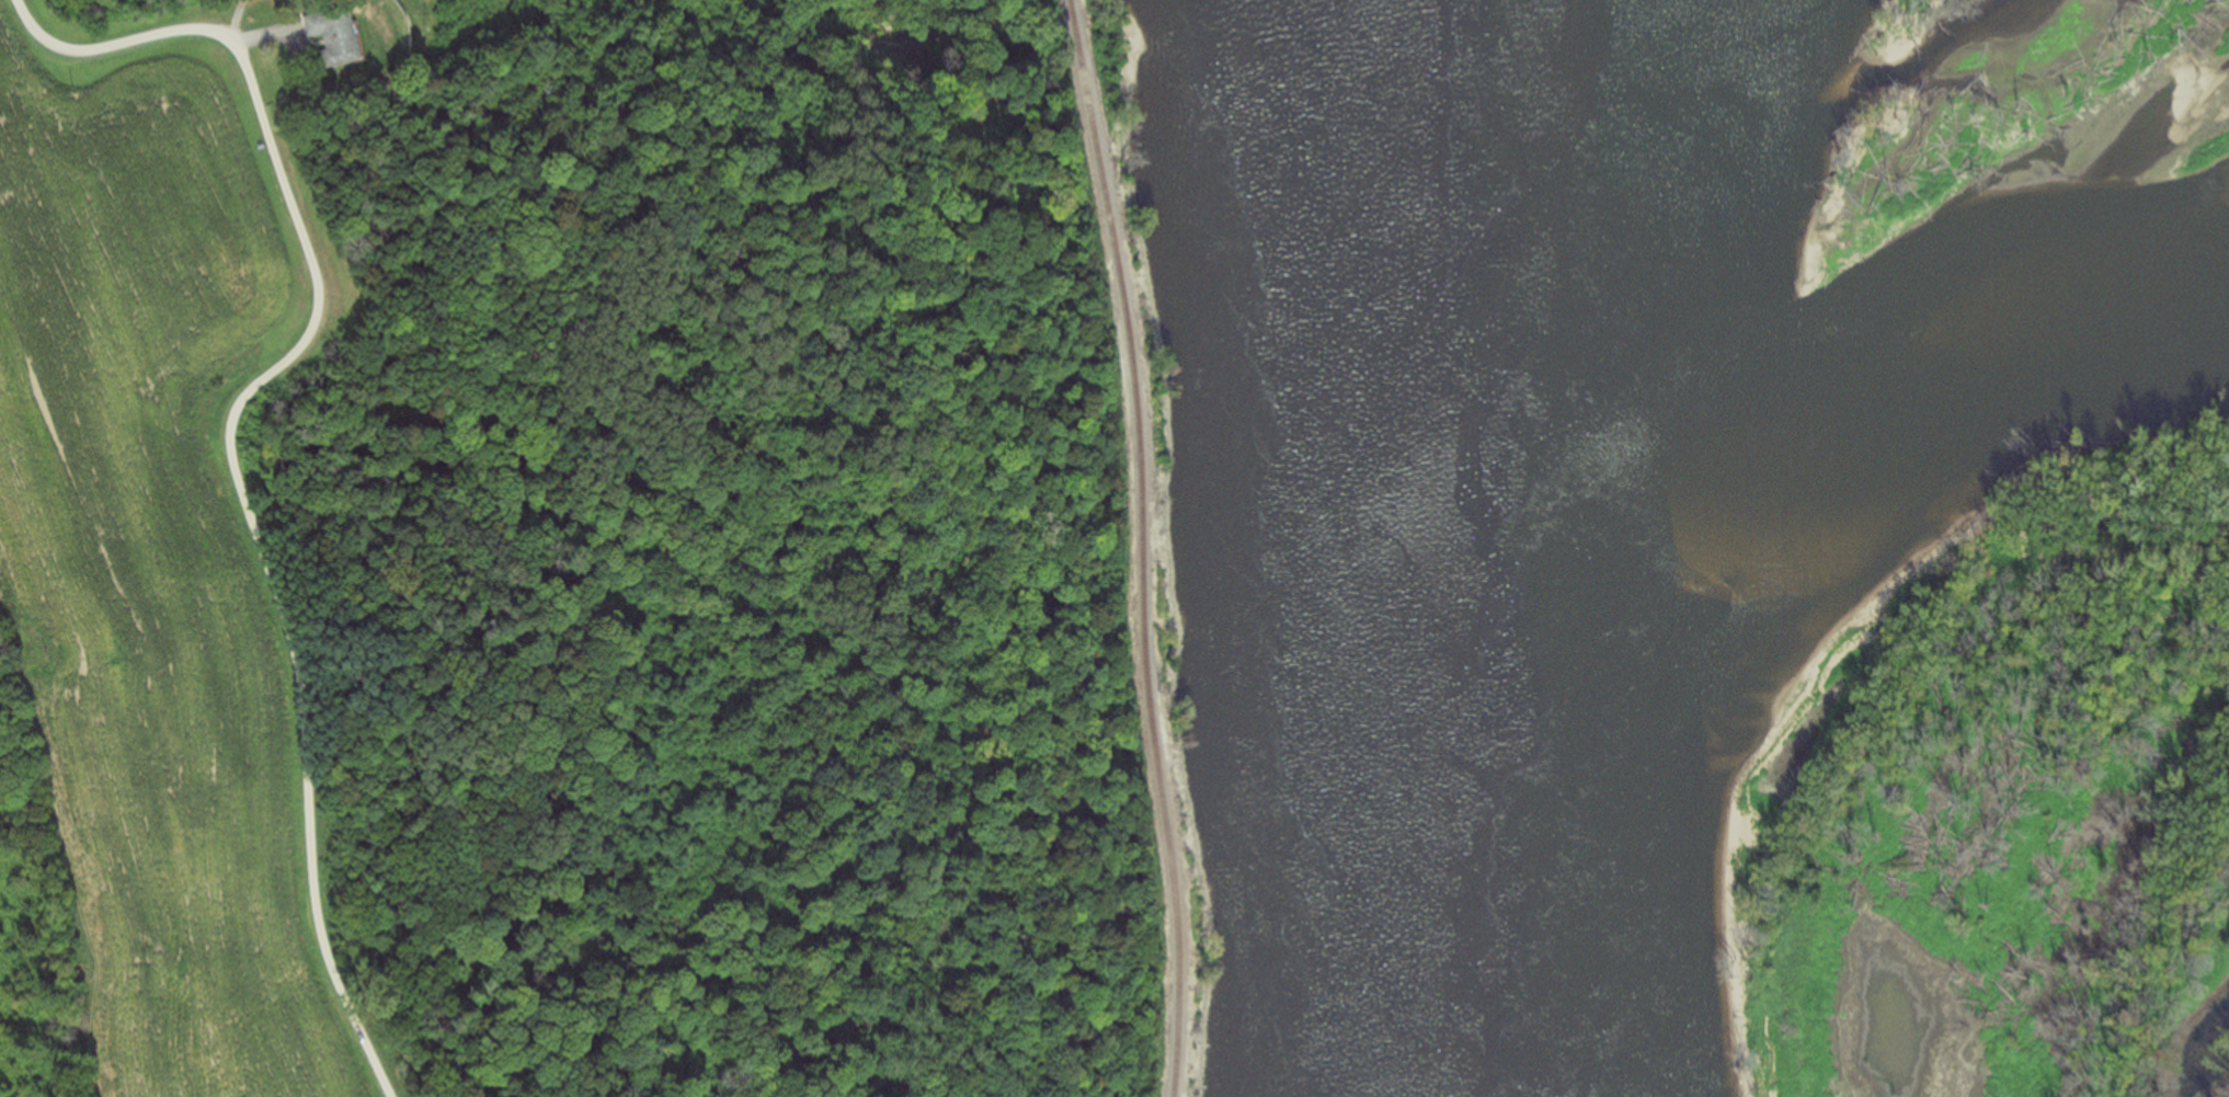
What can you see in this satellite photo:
building: (332, 37)
river: (1902, 418)
road: (228, 437)
railway: (1139, 547)
river: (1456, 547)

